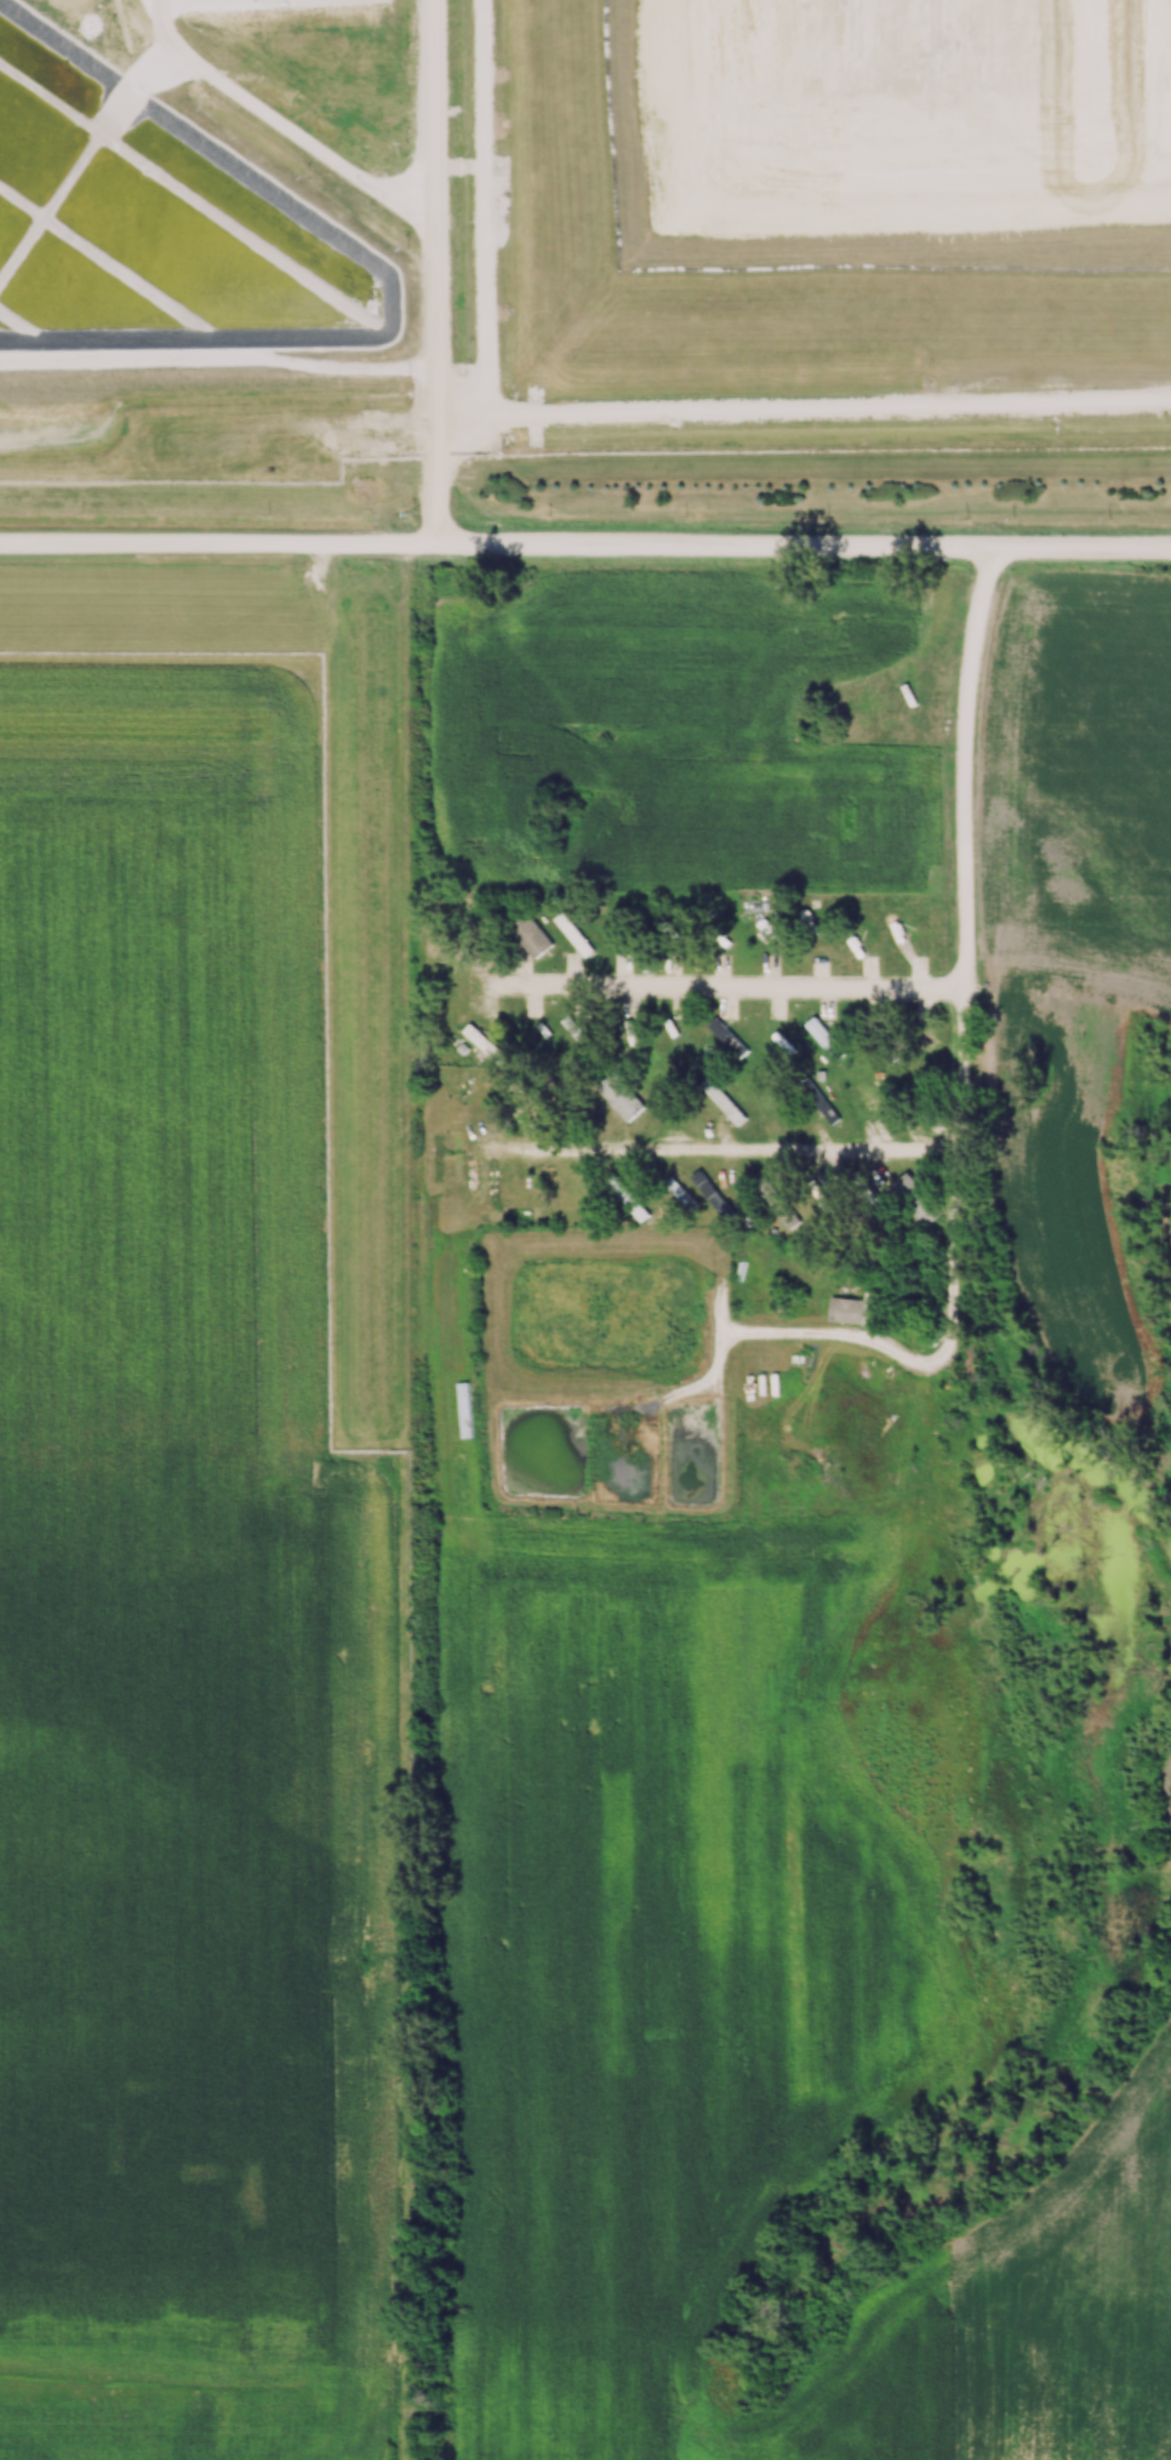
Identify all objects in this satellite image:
road: (279, 121)
road: (435, 270)
road: (585, 541)
road: (956, 837)
road: (715, 987)
road: (714, 1151)
road: (952, 1302)

